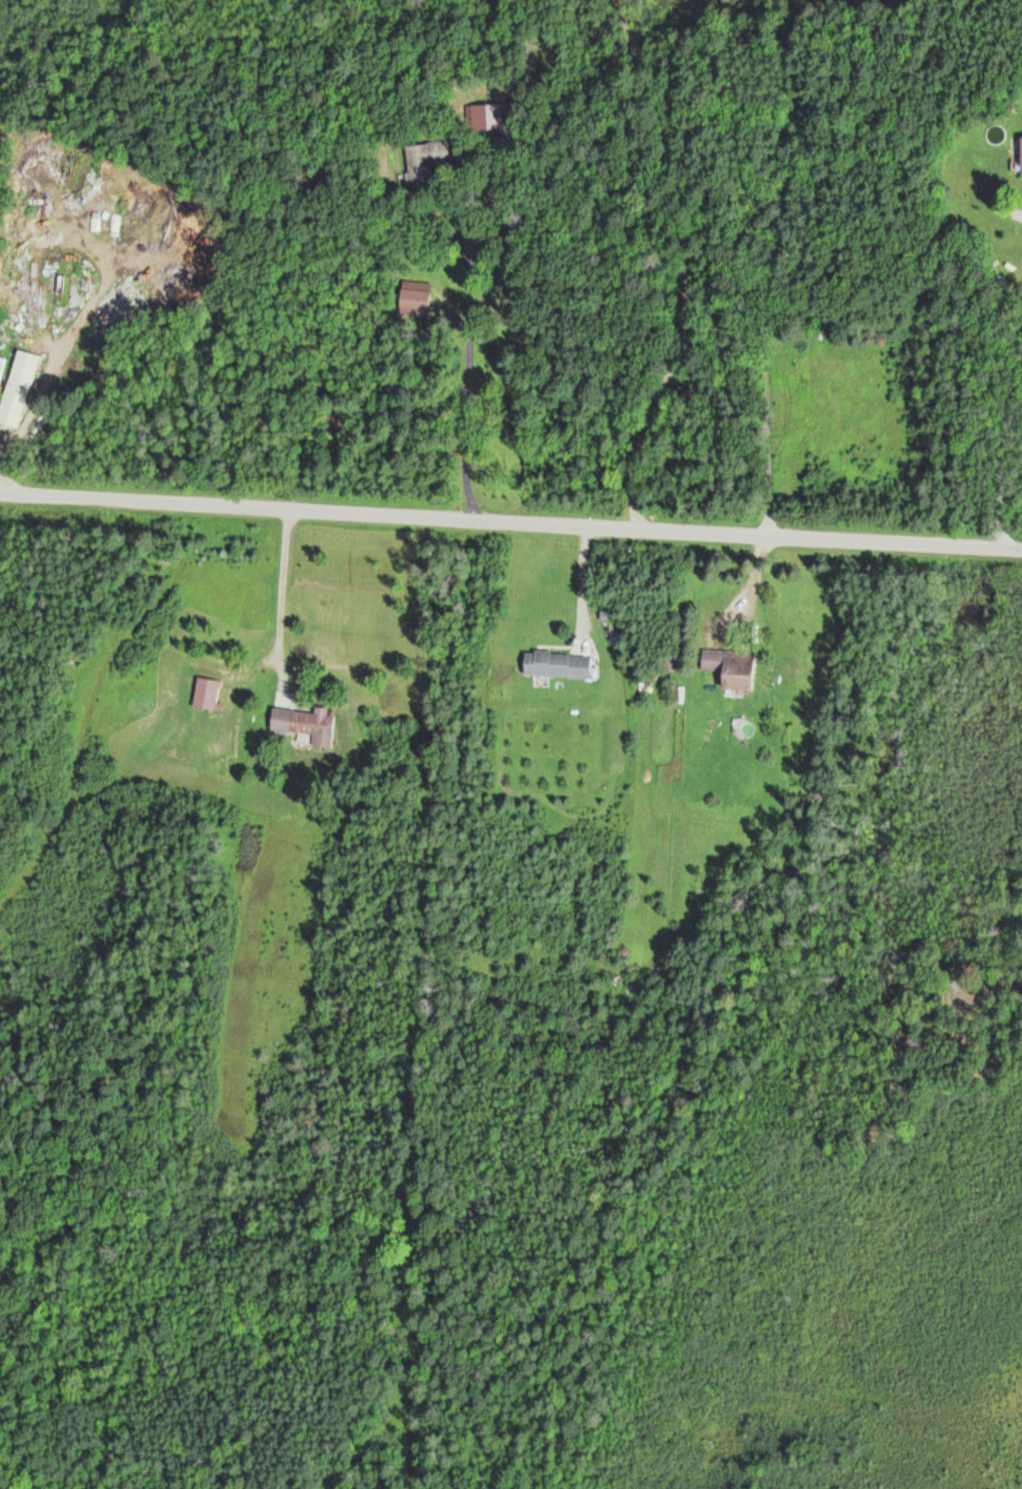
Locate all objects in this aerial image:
building: (423, 156)
road: (618, 262)
road: (761, 307)
road: (459, 370)
building: (19, 388)
road: (1007, 433)
road: (510, 522)
road: (582, 571)
road: (280, 580)
building: (559, 664)
building: (735, 668)
building: (208, 693)
building: (307, 724)
road: (415, 1002)

